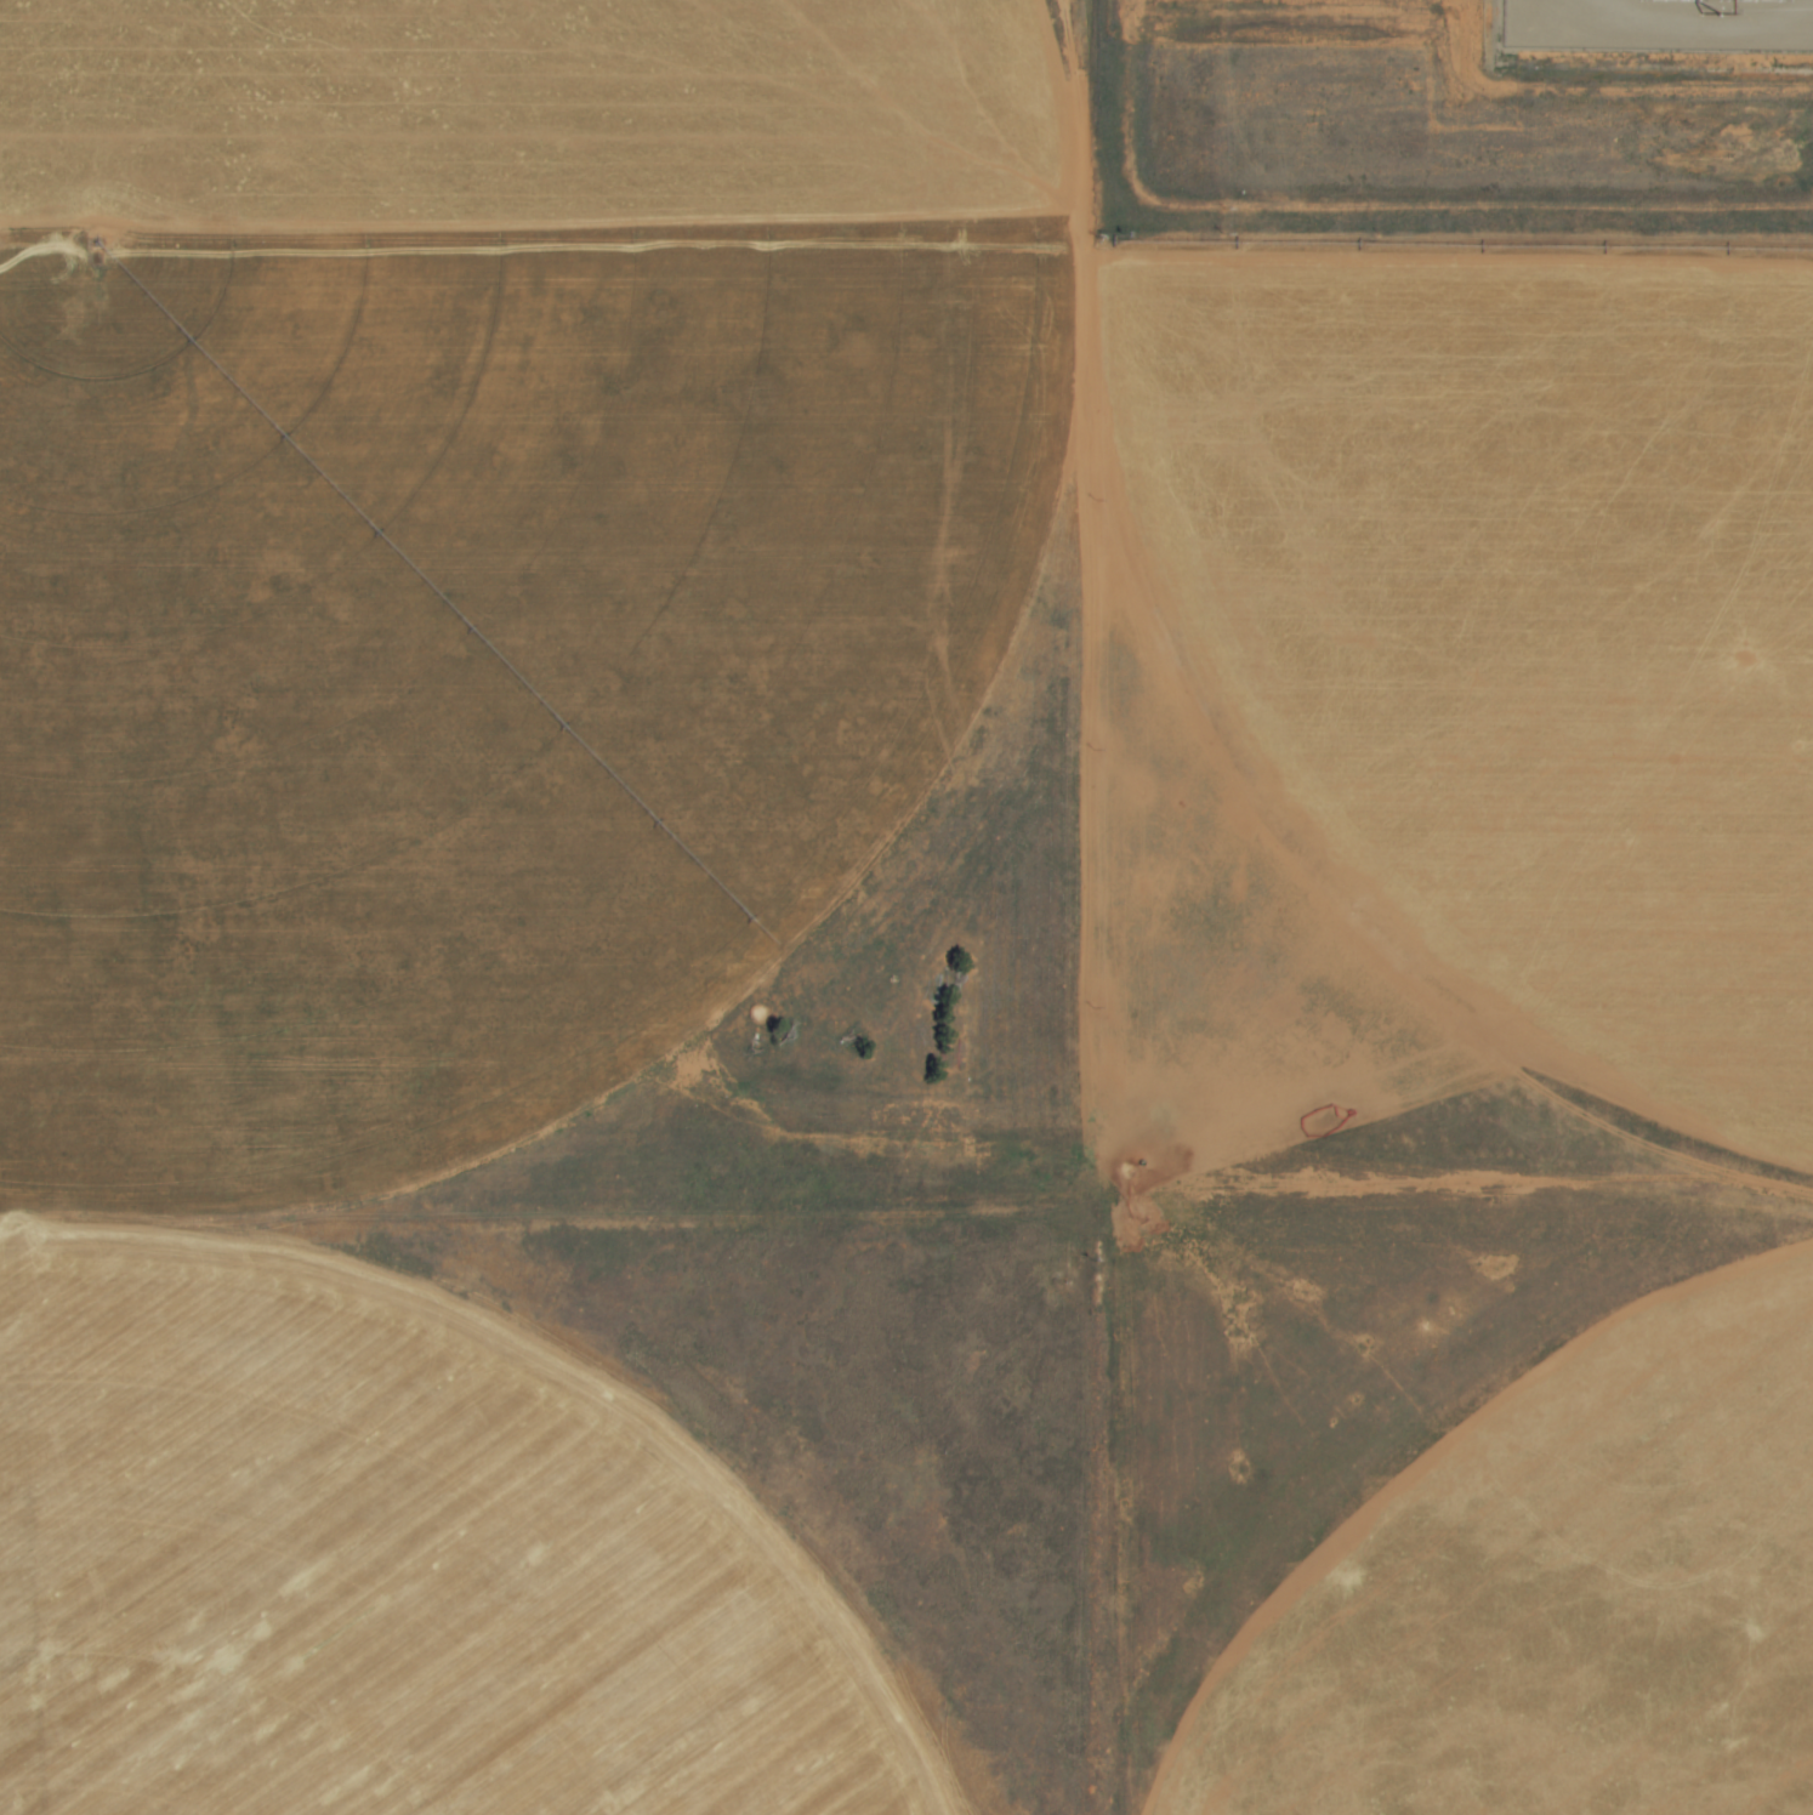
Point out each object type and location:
power substation: (1659, 23)

